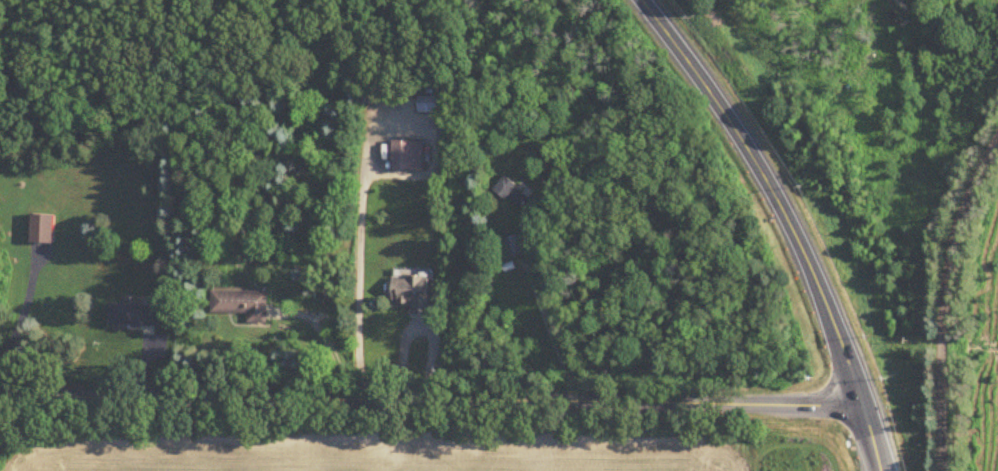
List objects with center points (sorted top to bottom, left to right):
building: (430, 105)
building: (403, 157)
building: (513, 194)
road: (788, 221)
building: (42, 230)
building: (513, 247)
road: (359, 282)
building: (413, 294)
road: (945, 296)
building: (242, 305)
road: (19, 315)
building: (135, 315)
road: (551, 330)
road: (432, 401)

